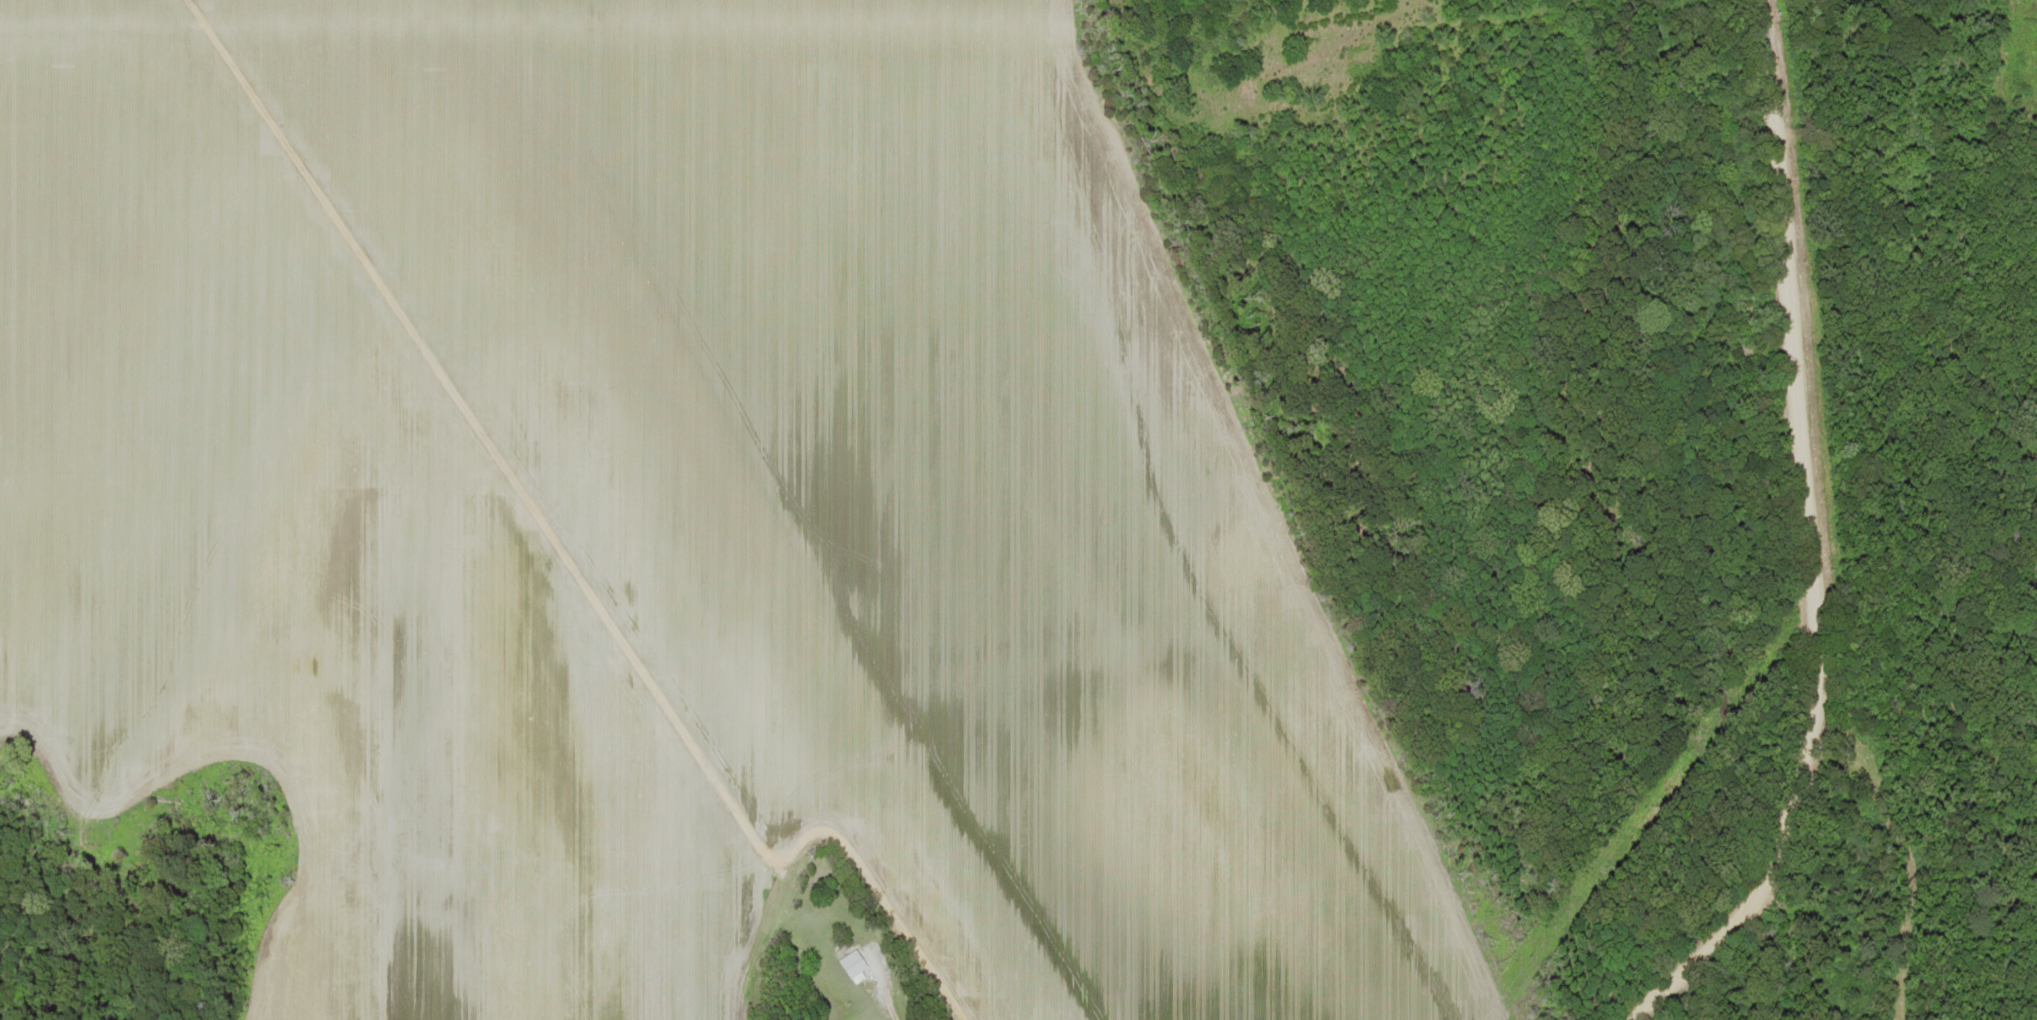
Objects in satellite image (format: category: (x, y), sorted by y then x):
road: (1806, 543)
road: (1896, 849)
building: (853, 965)
road: (878, 987)

